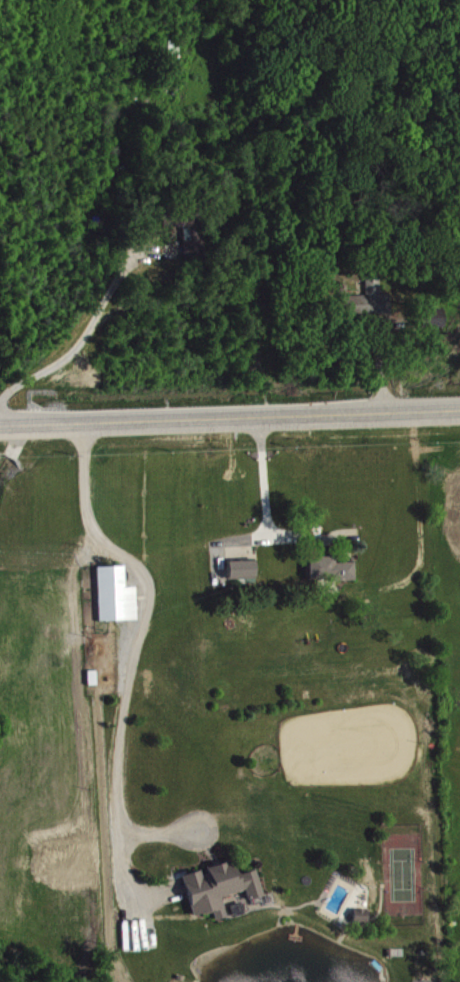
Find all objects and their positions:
building: (195, 231)
building: (368, 301)
road: (75, 345)
road: (230, 415)
road: (268, 477)
building: (243, 569)
building: (330, 569)
building: (118, 595)
road: (135, 647)
building: (221, 888)
building: (362, 915)

